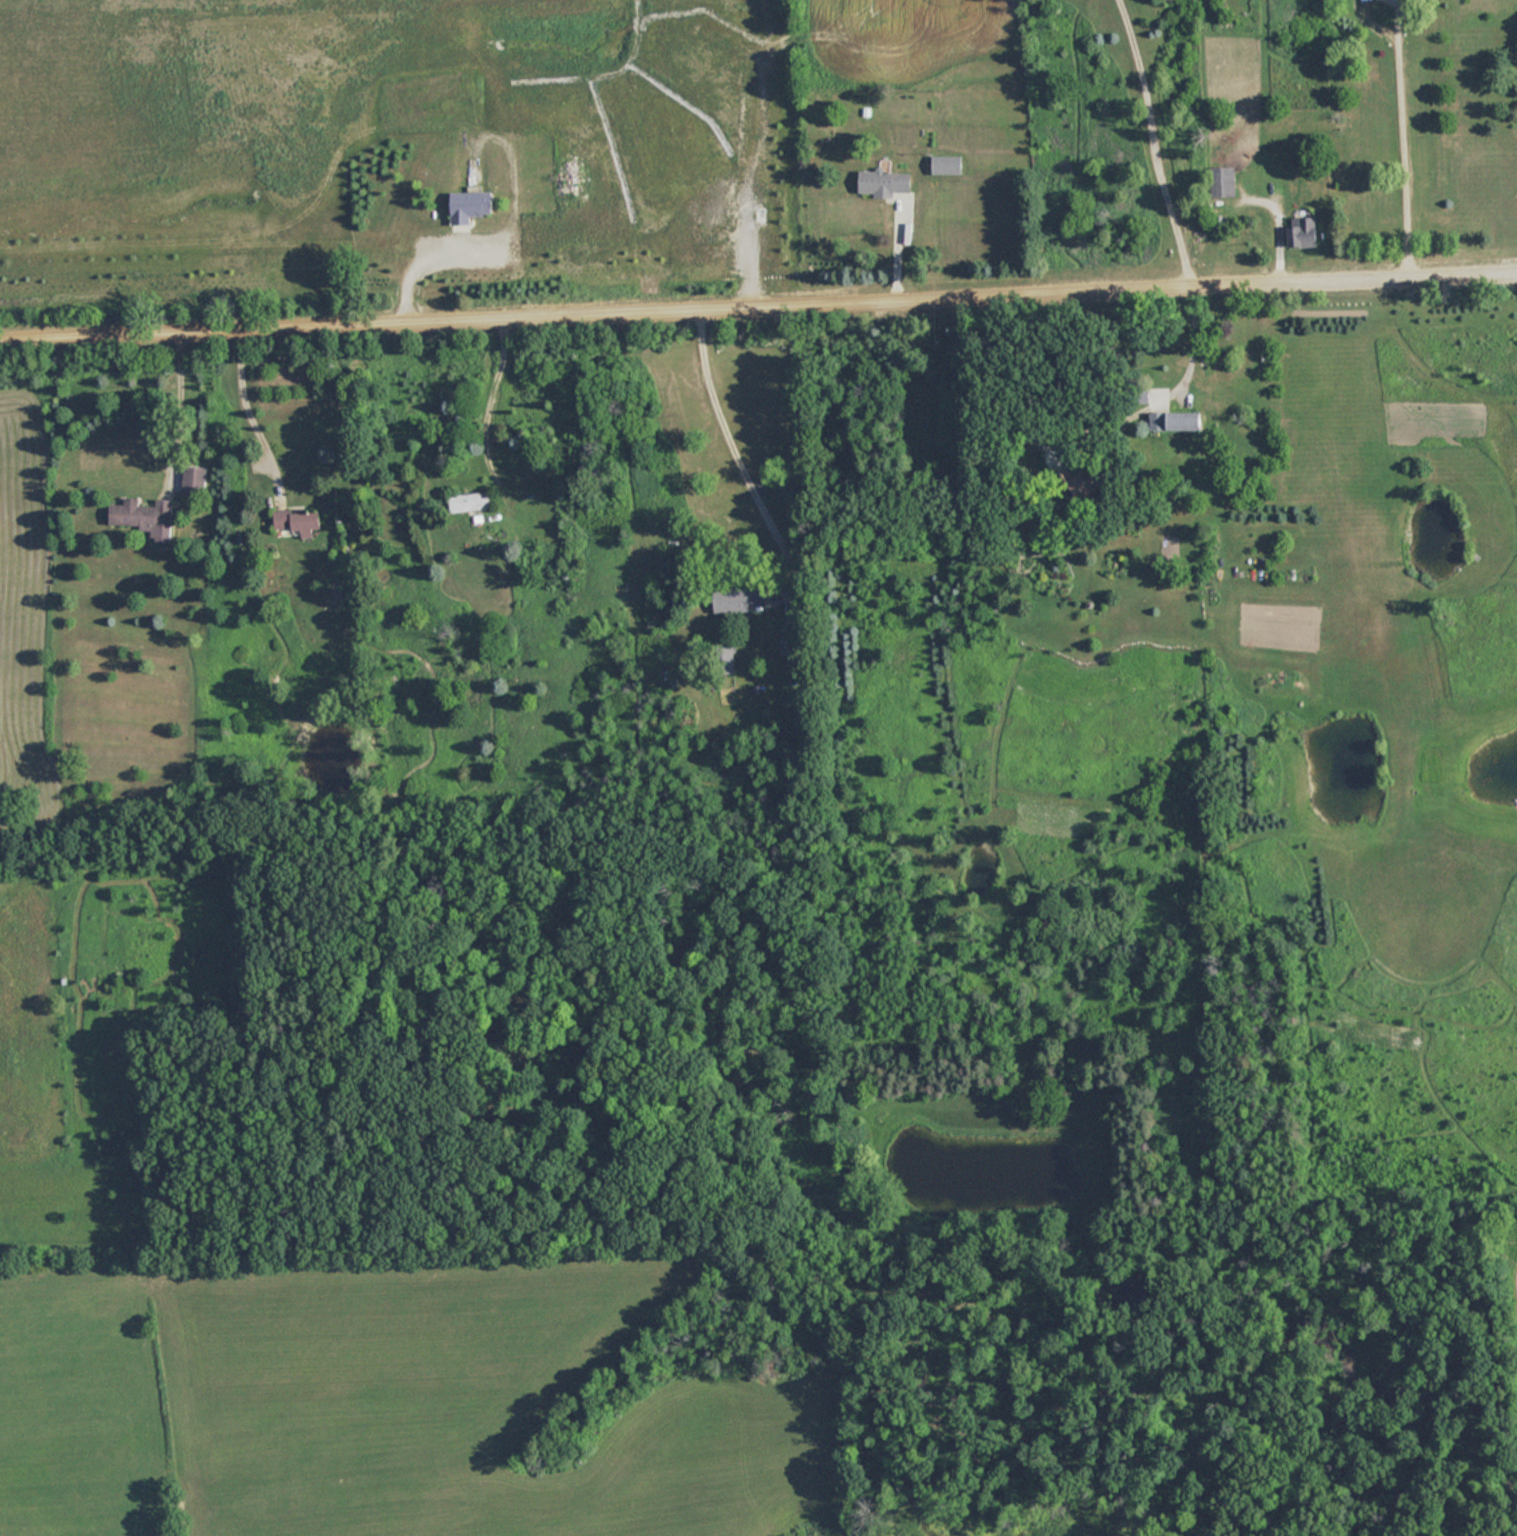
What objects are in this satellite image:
road: (1407, 134)
road: (1160, 138)
wastewater plant: (386, 142)
building: (946, 164)
building: (885, 181)
building: (1223, 182)
building: (471, 207)
building: (1301, 231)
road: (758, 296)
road: (1194, 341)
road: (245, 411)
building: (1179, 421)
road: (731, 448)
building: (194, 480)
building: (469, 502)
building: (145, 517)
building: (298, 521)
building: (739, 599)
building: (789, 645)

